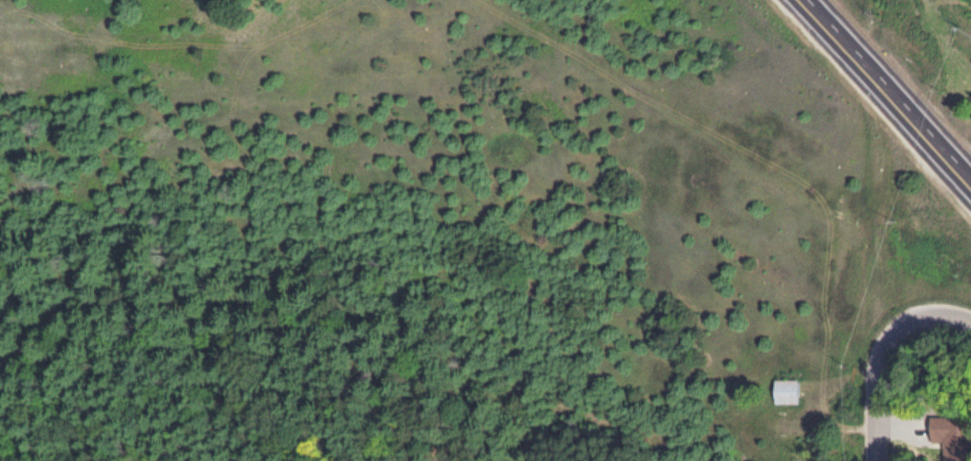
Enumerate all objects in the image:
road: (884, 95)
road: (883, 354)
building: (784, 390)
building: (948, 435)

